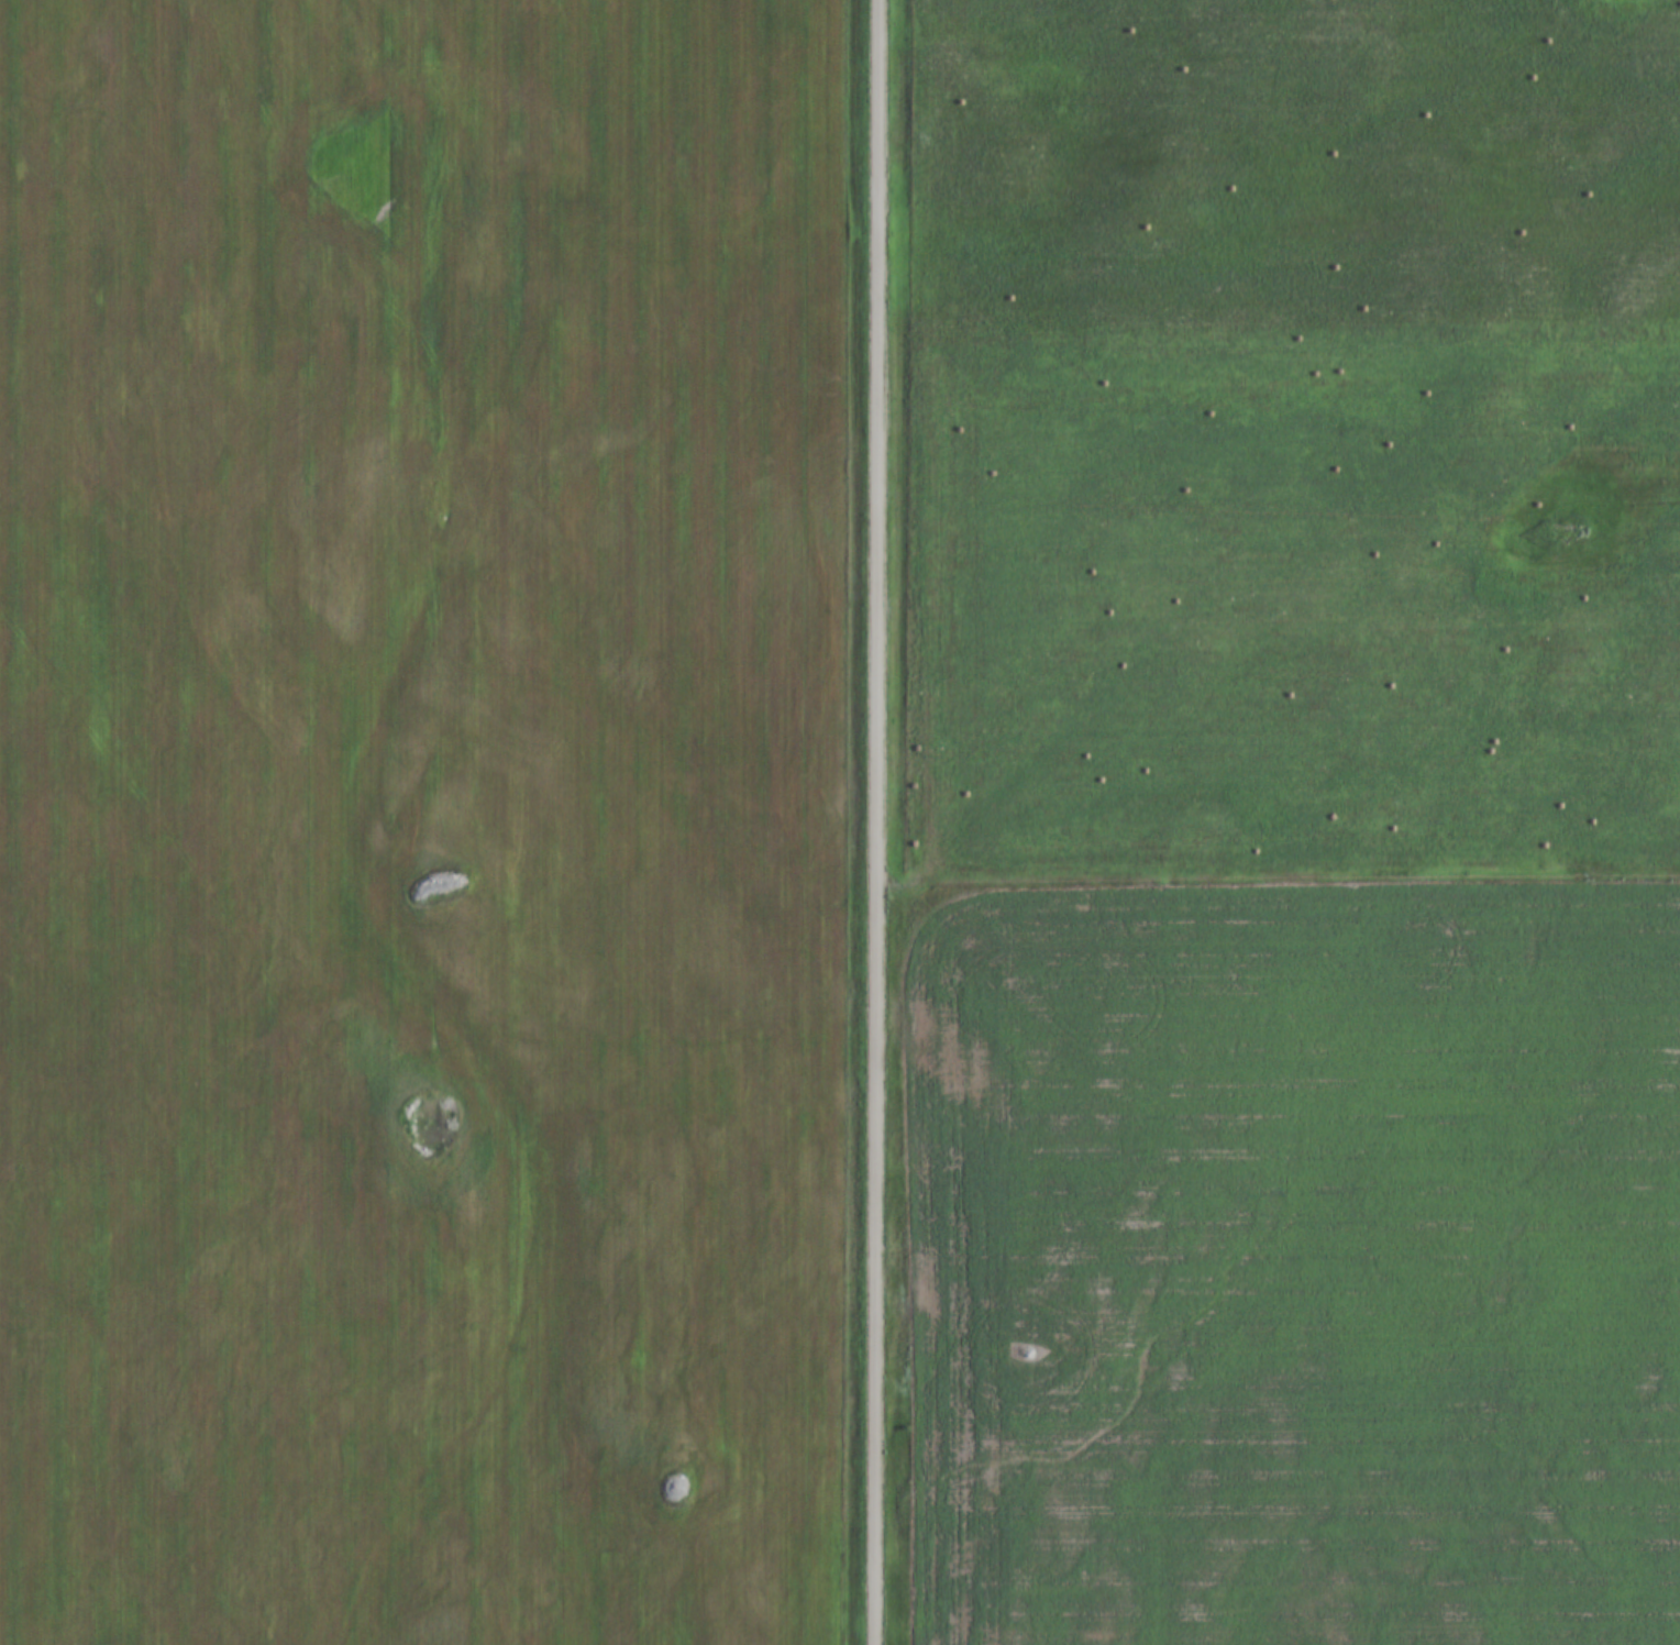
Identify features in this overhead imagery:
road: (876, 821)

